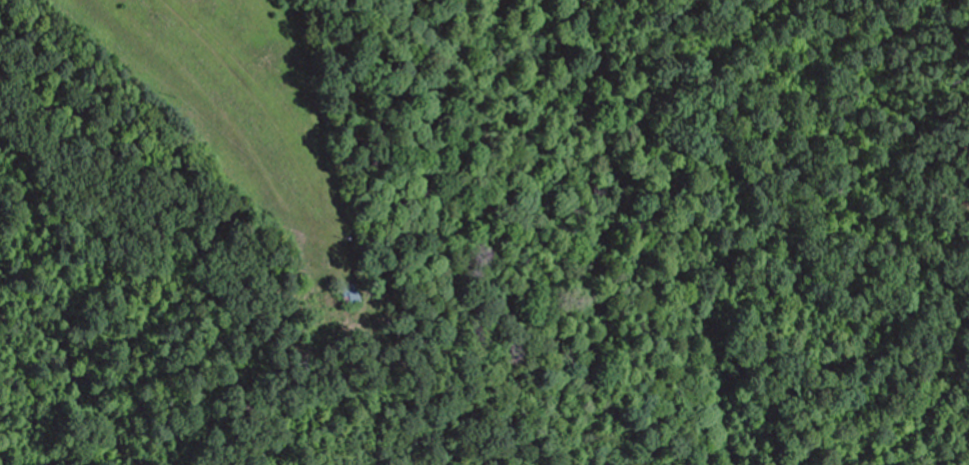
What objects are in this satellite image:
road: (937, 6)
building: (353, 295)

